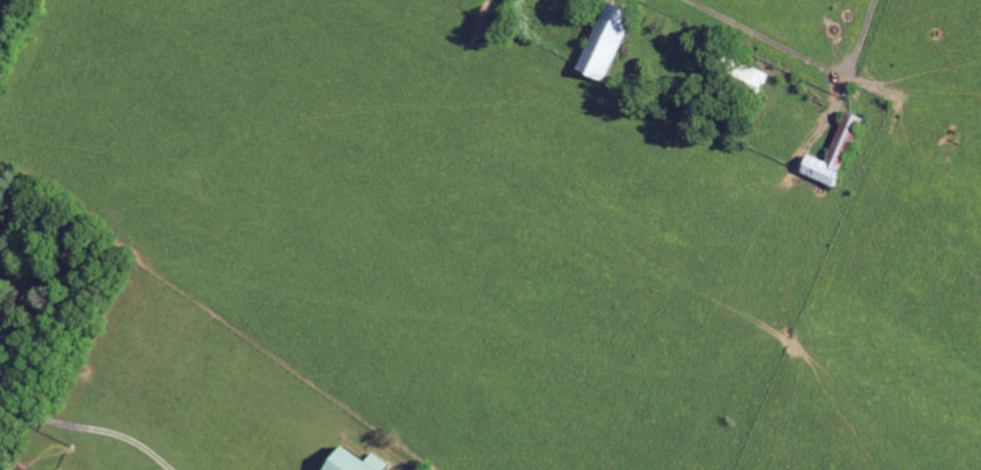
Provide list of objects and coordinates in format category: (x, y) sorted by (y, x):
road: (864, 36)
building: (601, 42)
building: (831, 153)
road: (88, 427)
building: (349, 461)

